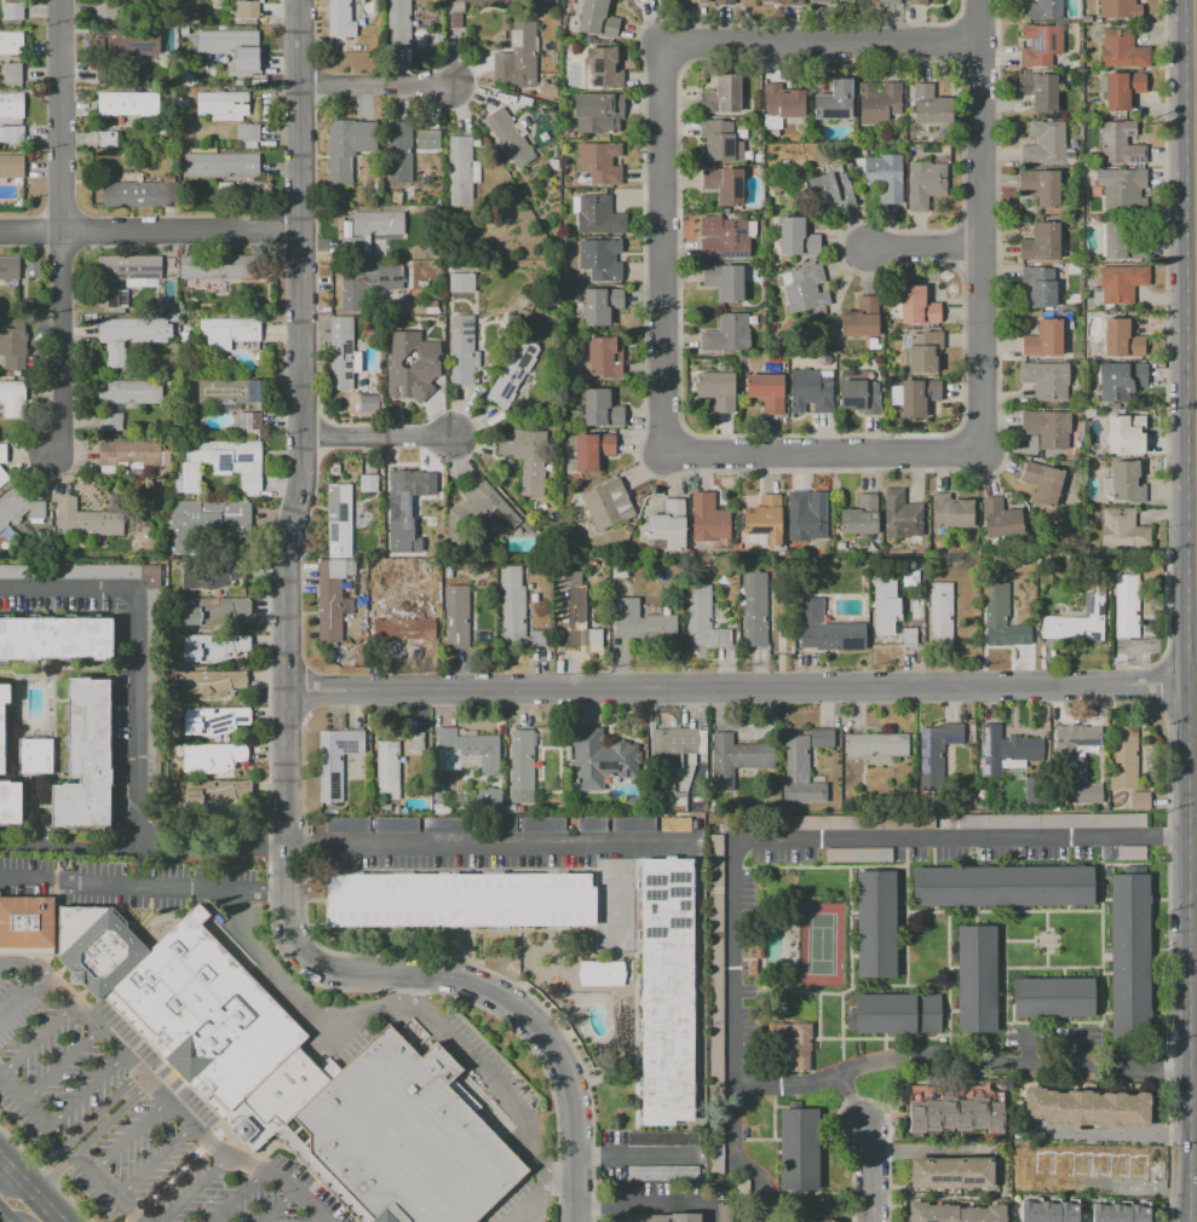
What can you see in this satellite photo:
building: (235, 0)
building: (639, 0)
building: (842, 0)
building: (700, 1)
building: (723, 1)
building: (782, 1)
building: (818, 1)
building: (888, 1)
building: (917, 2)
building: (105, 8)
building: (1118, 8)
building: (247, 10)
building: (460, 10)
building: (1043, 10)
building: (11, 11)
road: (977, 15)
building: (339, 18)
building: (1086, 18)
building: (598, 19)
building: (398, 23)
building: (184, 30)
building: (523, 36)
building: (133, 41)
road: (818, 41)
building: (11, 42)
road: (957, 44)
building: (1040, 46)
building: (231, 47)
building: (1122, 51)
building: (604, 68)
building: (12, 73)
road: (977, 73)
building: (238, 82)
road: (372, 82)
building: (1120, 88)
building: (1037, 91)
building: (720, 94)
building: (512, 98)
building: (833, 102)
building: (879, 102)
building: (183, 103)
building: (127, 104)
building: (223, 104)
building: (11, 105)
building: (928, 105)
building: (779, 106)
building: (598, 113)
building: (248, 133)
building: (741, 133)
building: (12, 134)
building: (508, 138)
building: (108, 139)
building: (428, 139)
building: (720, 140)
building: (1121, 143)
building: (1045, 145)
building: (346, 146)
building: (399, 151)
building: (599, 163)
building: (221, 165)
building: (552, 165)
building: (11, 166)
building: (460, 172)
building: (882, 175)
building: (724, 184)
building: (925, 184)
building: (829, 185)
building: (1041, 186)
building: (261, 191)
building: (1126, 191)
building: (138, 194)
building: (597, 217)
road: (979, 217)
road: (979, 224)
road: (62, 227)
building: (369, 229)
road: (150, 231)
building: (796, 237)
building: (727, 240)
building: (1113, 241)
building: (1041, 242)
road: (922, 246)
road: (661, 247)
building: (379, 248)
road: (961, 249)
building: (600, 259)
building: (215, 267)
building: (10, 269)
building: (33, 270)
building: (123, 278)
building: (724, 281)
building: (366, 282)
building: (461, 282)
road: (979, 282)
building: (1122, 282)
building: (1040, 286)
building: (802, 289)
building: (600, 305)
building: (916, 306)
building: (431, 307)
building: (172, 317)
building: (861, 318)
building: (825, 329)
road: (962, 329)
building: (228, 333)
building: (726, 334)
building: (130, 335)
building: (1043, 339)
building: (1121, 339)
road: (1195, 341)
building: (12, 344)
building: (923, 350)
building: (462, 351)
building: (341, 353)
building: (604, 355)
road: (1166, 355)
building: (412, 364)
building: (513, 371)
building: (1045, 380)
building: (1121, 380)
building: (717, 390)
building: (810, 390)
building: (229, 391)
building: (130, 392)
building: (766, 392)
building: (859, 396)
building: (914, 396)
building: (12, 398)
building: (368, 403)
building: (600, 408)
building: (109, 421)
building: (249, 421)
building: (1047, 428)
building: (1122, 436)
road: (378, 438)
building: (592, 450)
road: (821, 450)
building: (1, 451)
building: (130, 454)
building: (526, 457)
building: (220, 463)
building: (334, 469)
road: (301, 474)
building: (2, 477)
road: (663, 477)
building: (1042, 482)
building: (368, 483)
building: (1123, 483)
building: (426, 484)
building: (606, 505)
building: (401, 507)
building: (18, 508)
building: (484, 508)
building: (950, 512)
building: (859, 515)
building: (900, 515)
building: (805, 518)
building: (708, 519)
building: (765, 519)
building: (1000, 519)
building: (86, 520)
building: (339, 521)
building: (201, 523)
building: (669, 525)
building: (1122, 529)
building: (620, 571)
building: (448, 572)
building: (202, 577)
building: (150, 583)
building: (330, 596)
building: (512, 601)
building: (885, 605)
building: (1127, 606)
building: (754, 609)
building: (213, 610)
building: (572, 613)
building: (940, 613)
building: (1000, 616)
building: (456, 617)
building: (702, 617)
building: (1080, 618)
building: (640, 621)
building: (404, 629)
building: (827, 629)
building: (909, 635)
building: (537, 638)
building: (56, 639)
building: (213, 646)
road: (136, 647)
road: (1196, 682)
building: (211, 684)
road: (741, 686)
building: (212, 720)
road: (1196, 721)
building: (4, 724)
building: (822, 737)
building: (416, 740)
building: (1074, 743)
building: (877, 745)
building: (937, 747)
building: (466, 750)
building: (1009, 751)
building: (672, 754)
building: (34, 756)
building: (85, 757)
building: (211, 757)
building: (1124, 757)
building: (600, 759)
building: (736, 759)
building: (334, 761)
building: (520, 766)
building: (387, 769)
building: (800, 773)
building: (213, 792)
building: (485, 799)
building: (1140, 800)
building: (11, 802)
building: (632, 803)
building: (510, 807)
building: (380, 808)
building: (442, 808)
building: (828, 822)
building: (1043, 822)
building: (470, 824)
building: (592, 824)
building: (674, 824)
building: (347, 825)
building: (396, 825)
building: (543, 825)
building: (634, 825)
road: (144, 841)
road: (483, 845)
building: (1130, 853)
building: (858, 854)
road: (144, 883)
building: (1002, 886)
building: (459, 899)
road: (56, 921)
building: (876, 924)
building: (25, 926)
park: (821, 944)
building: (1128, 956)
road: (27, 959)
road: (24, 967)
road: (735, 970)
building: (602, 974)
building: (976, 979)
road: (404, 987)
building: (666, 991)
building: (1053, 997)
road: (70, 1004)
building: (717, 1005)
road: (513, 1009)
road: (418, 1011)
building: (894, 1013)
building: (195, 1015)
road: (36, 1041)
building: (793, 1047)
road: (61, 1067)
road: (86, 1091)
road: (24, 1102)
building: (1086, 1108)
building: (955, 1114)
parking lot: (131, 1119)
road: (80, 1129)
fountain: (244, 1130)
road: (1115, 1132)
road: (130, 1136)
road: (91, 1139)
building: (663, 1139)
building: (401, 1140)
road: (52, 1141)
road: (868, 1145)
building: (799, 1147)
road: (224, 1154)
road: (635, 1154)
road: (156, 1163)
building: (953, 1172)
building: (1111, 1172)
building: (662, 1174)
road: (1196, 1177)
road: (559, 1182)
road: (109, 1188)
road: (195, 1189)
road: (29, 1191)
road: (237, 1197)
road: (16, 1198)
road: (651, 1199)
road: (277, 1207)
building: (1048, 1210)
building: (955, 1212)
building: (1120, 1212)
building: (724, 1214)
building: (654, 1217)
road: (1, 1220)
road: (313, 1220)
building: (747, 1221)
building: (769, 1221)
building: (805, 1221)
building: (827, 1221)

